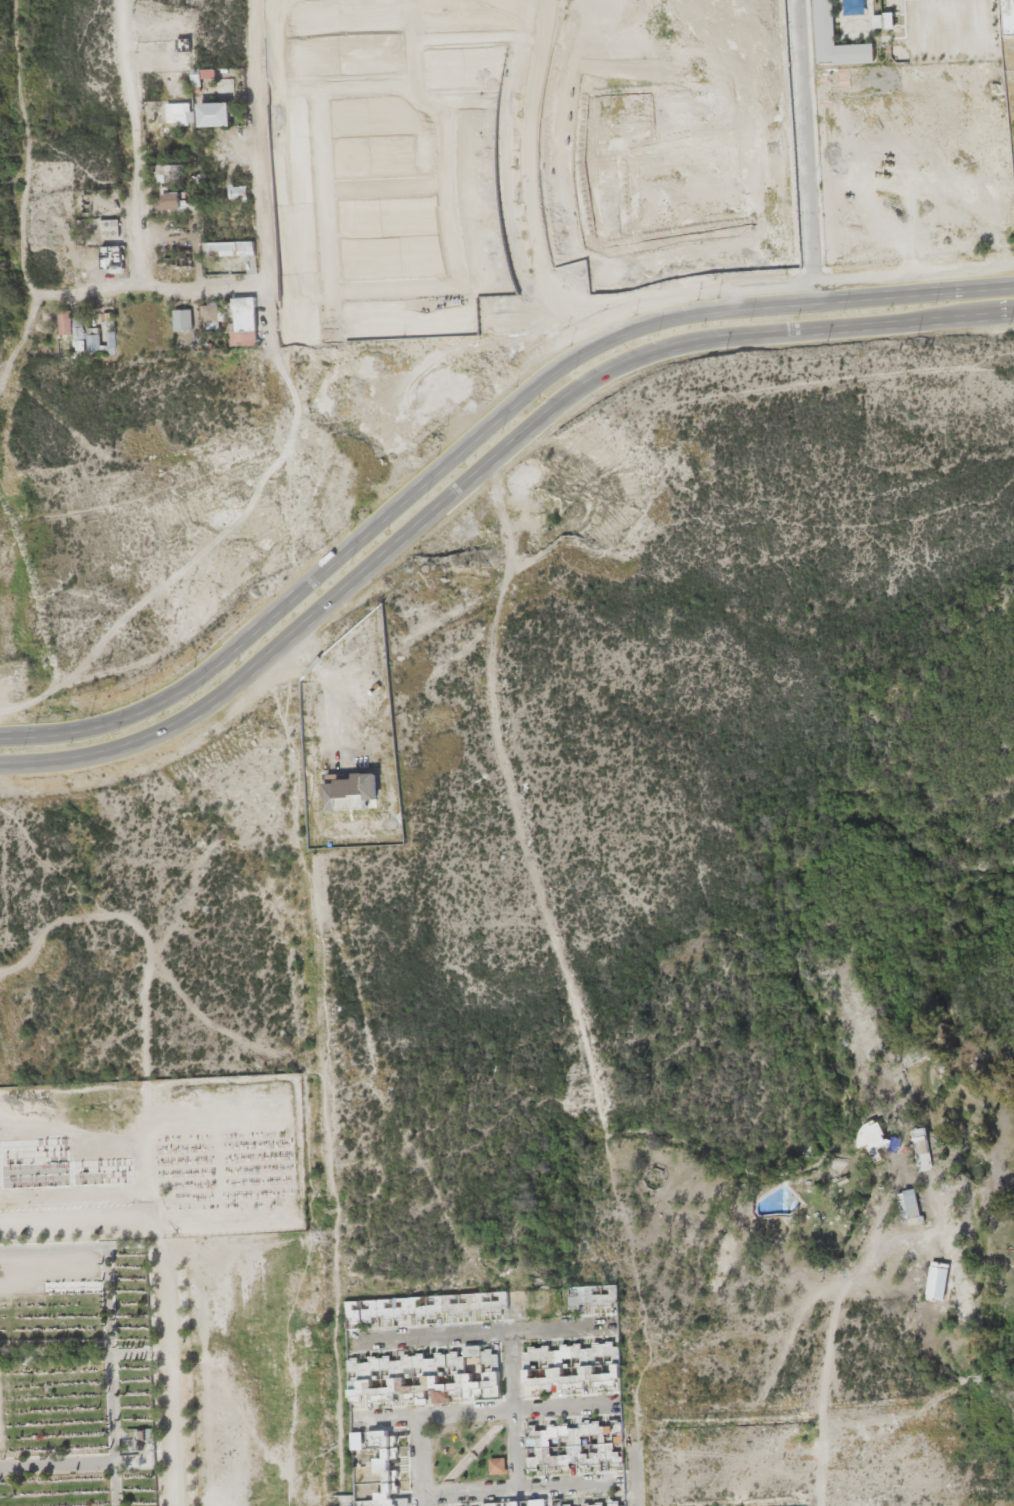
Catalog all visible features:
park: (119, 1252)

